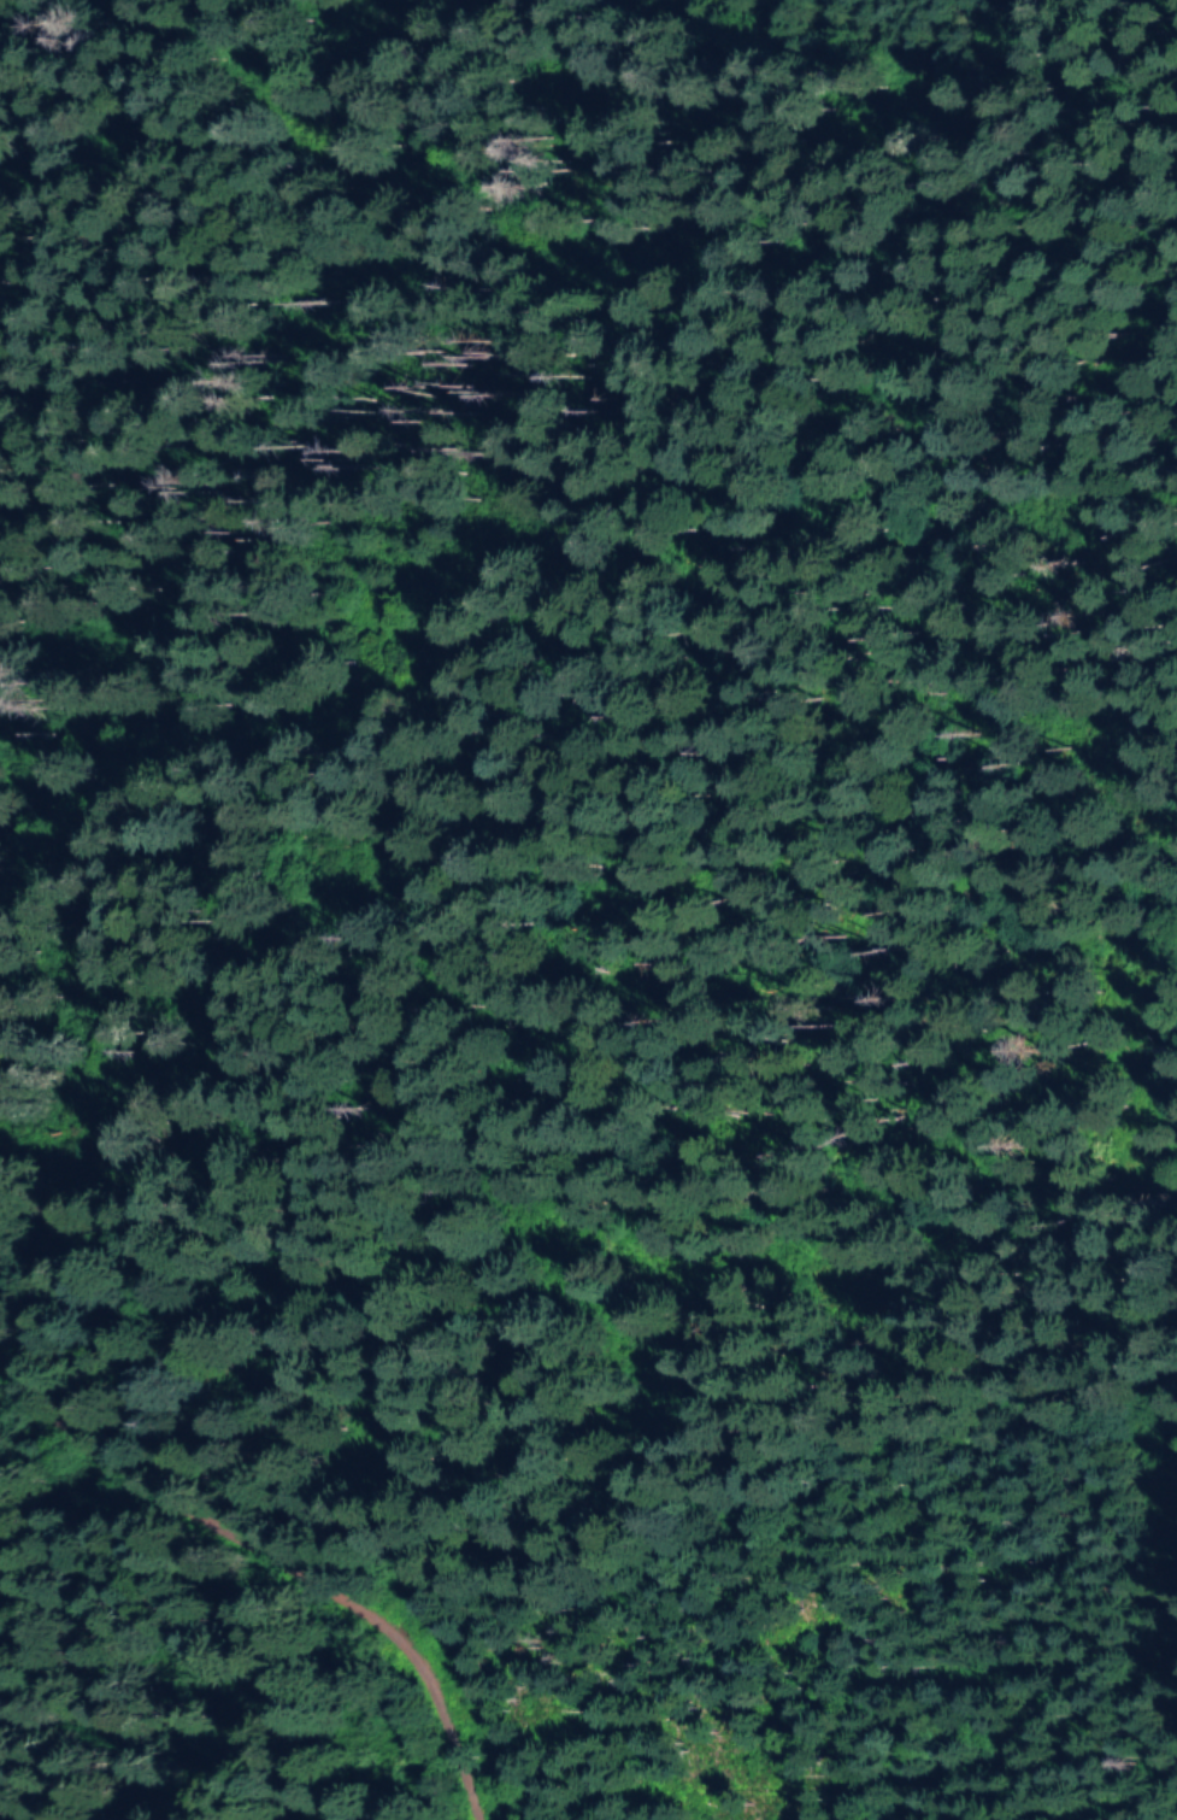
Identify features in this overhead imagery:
road: (260, 1526)

